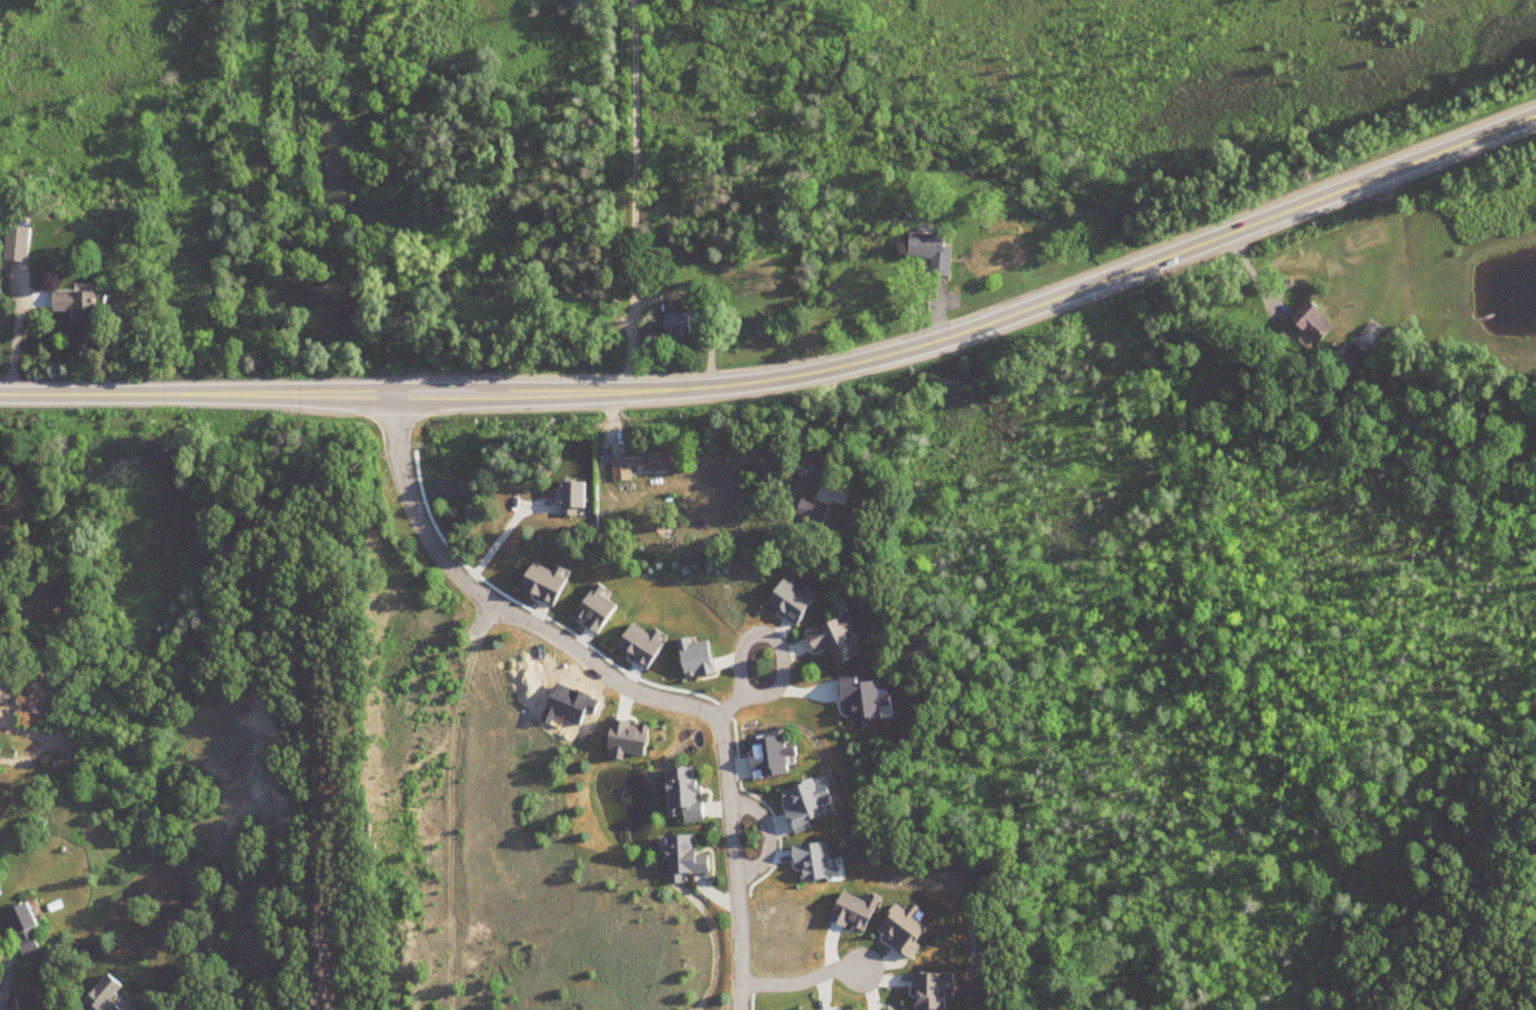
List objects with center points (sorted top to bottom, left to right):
road: (634, 196)
building: (15, 244)
building: (930, 253)
building: (72, 306)
road: (706, 306)
building: (1310, 322)
building: (676, 325)
building: (1354, 355)
road: (789, 376)
road: (832, 428)
building: (659, 459)
building: (808, 467)
building: (620, 470)
building: (568, 497)
building: (809, 511)
road: (499, 540)
road: (484, 619)
building: (831, 639)
road: (772, 640)
road: (618, 684)
road: (729, 708)
building: (679, 793)
road: (450, 820)
road: (769, 838)
building: (681, 856)
building: (1535, 860)
building: (21, 928)
road: (4, 974)
road: (802, 982)
building: (101, 995)

